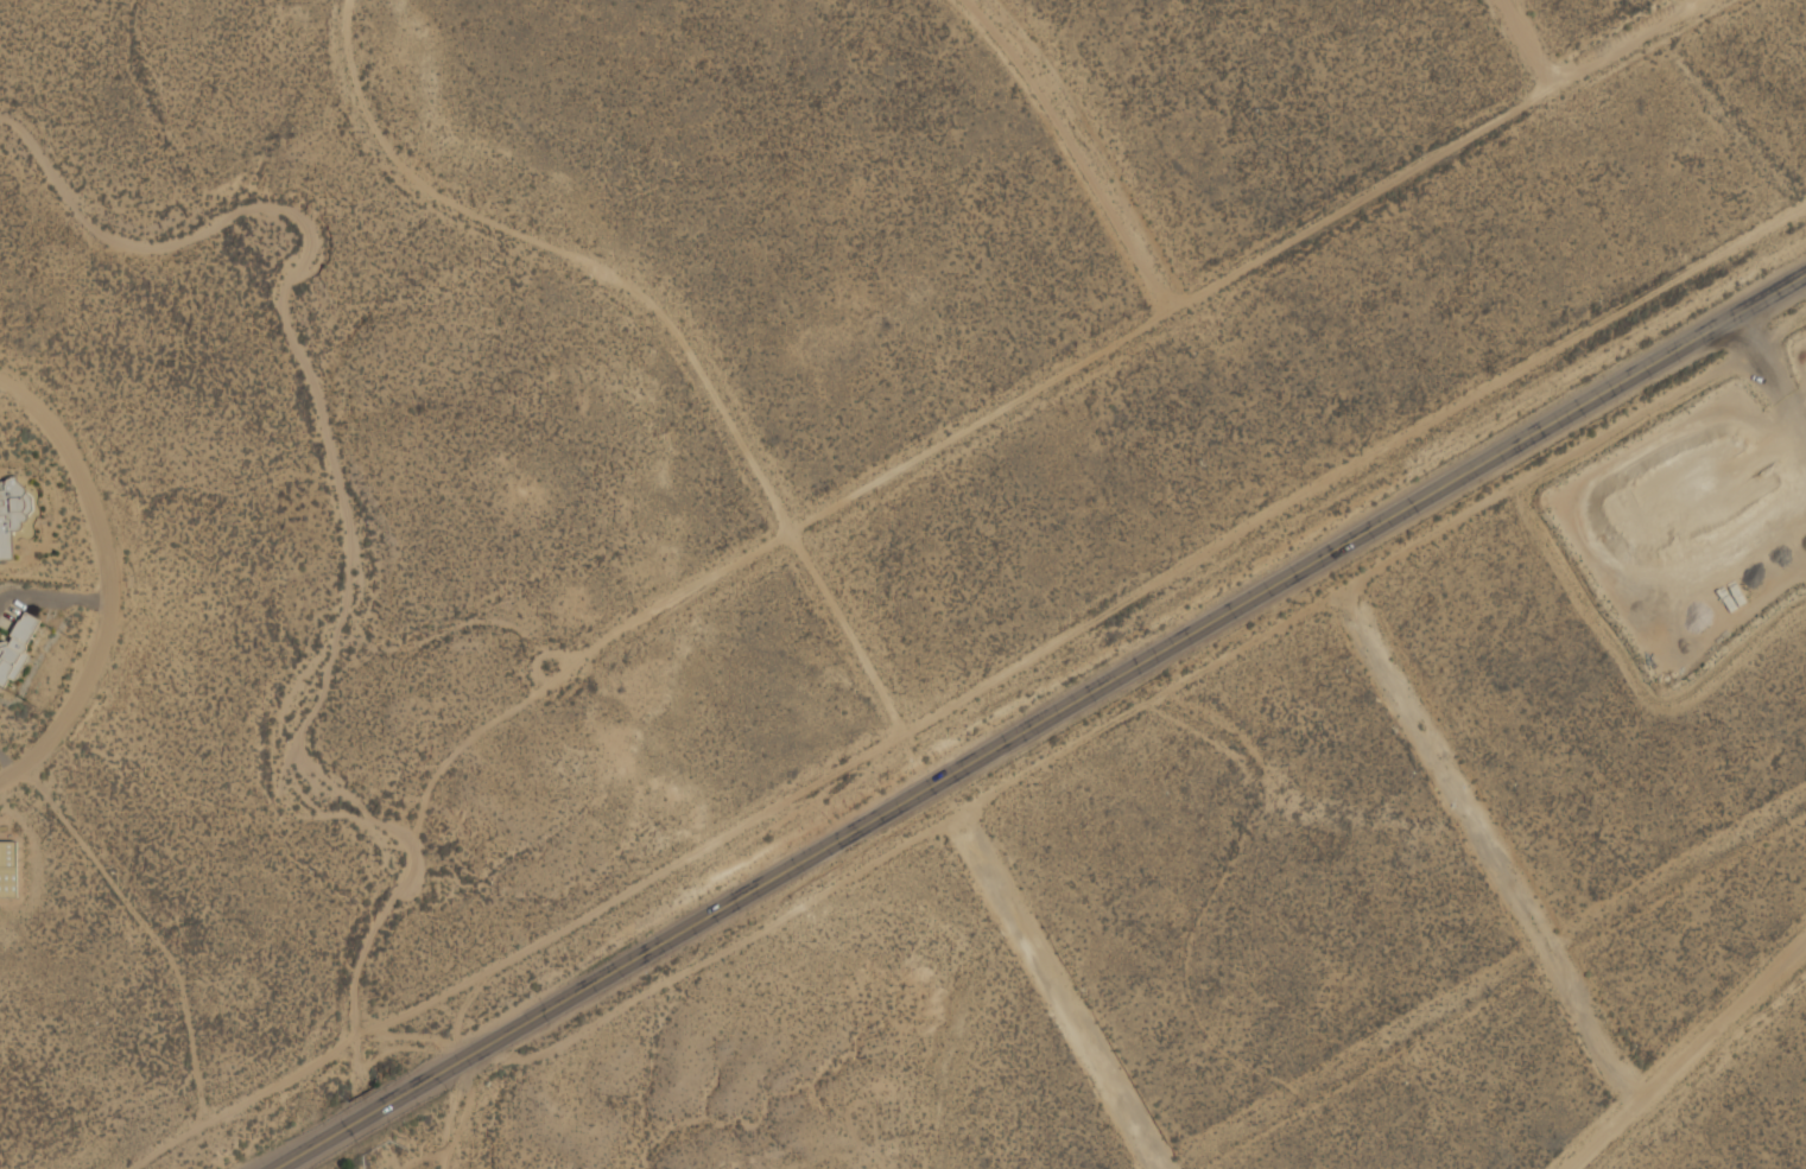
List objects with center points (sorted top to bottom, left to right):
road: (1532, 38)
road: (1077, 148)
road: (1183, 298)
road: (1776, 374)
building: (12, 513)
road: (96, 583)
building: (15, 648)
road: (937, 716)
road: (1115, 718)
road: (1034, 725)
road: (1490, 846)
road: (101, 865)
building: (8, 869)
road: (1058, 990)
road: (1688, 1057)

